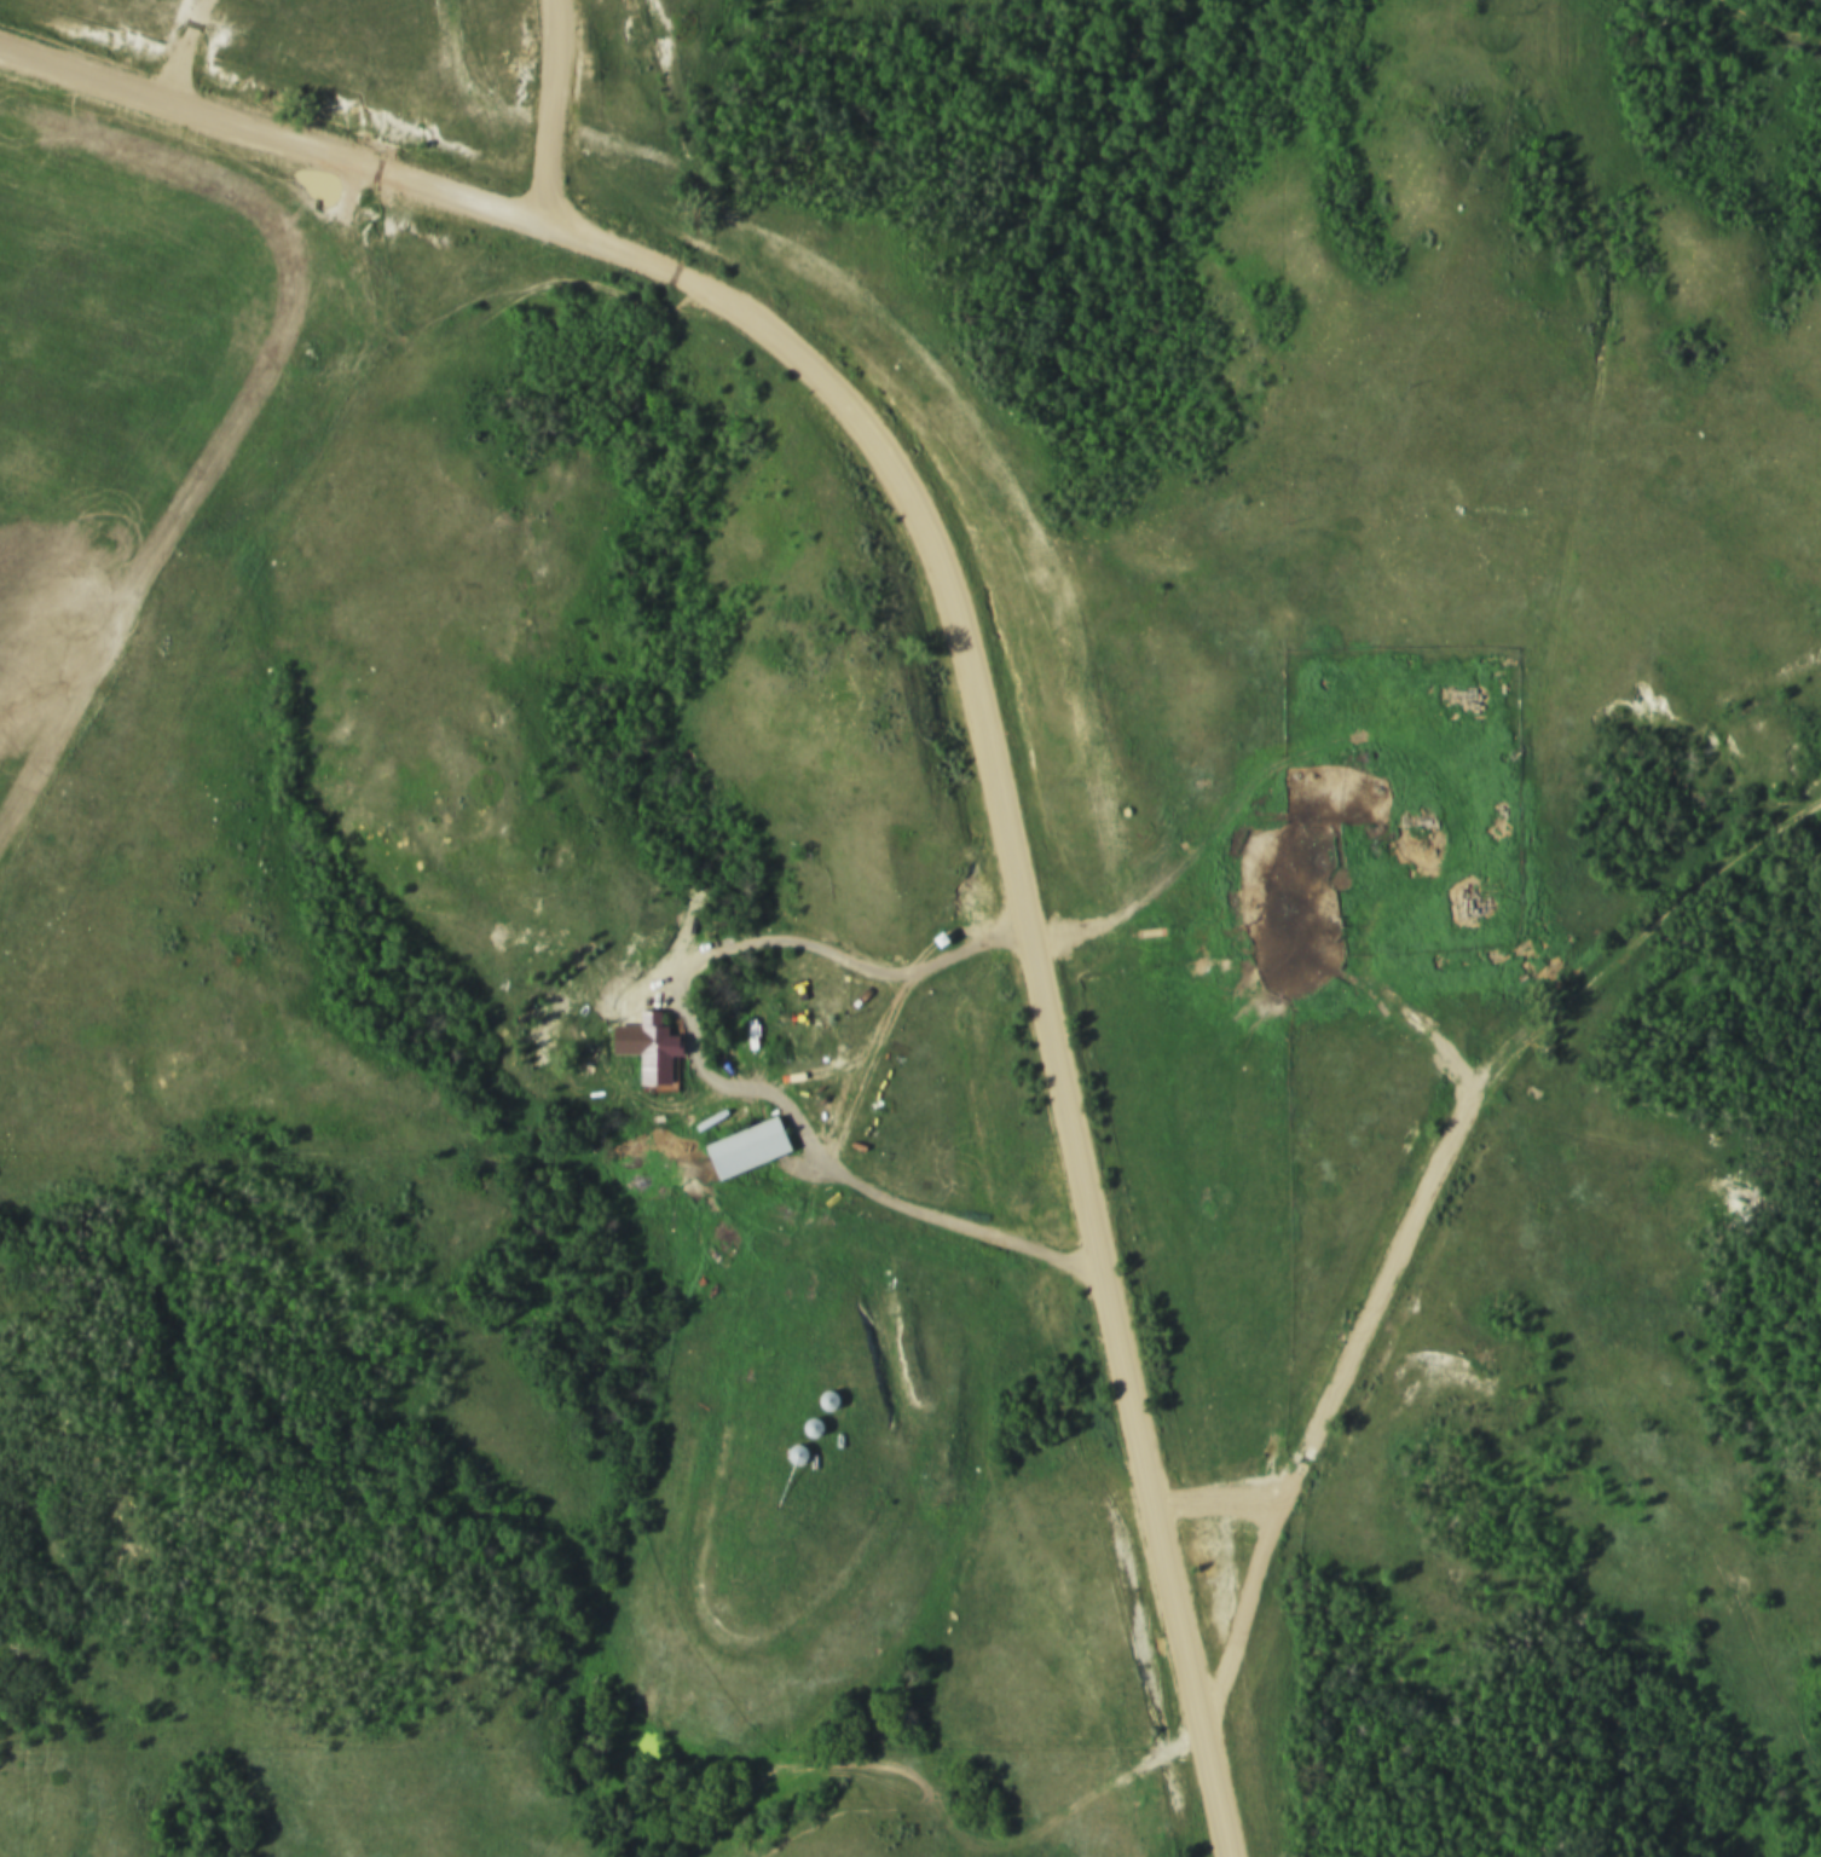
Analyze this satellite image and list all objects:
road: (1767, 29)
road: (553, 110)
road: (272, 141)
road: (1036, 943)
building: (931, 944)
road: (1282, 959)
road: (624, 1026)
building: (646, 1053)
road: (838, 1147)
building: (739, 1152)
road: (1422, 1209)
building: (820, 1407)
silo: (820, 1407)
building: (808, 1425)
building: (804, 1434)
silo: (804, 1434)
building: (793, 1453)
building: (788, 1462)
silo: (788, 1462)
road: (1220, 1509)
road: (805, 1732)
road: (988, 1851)

